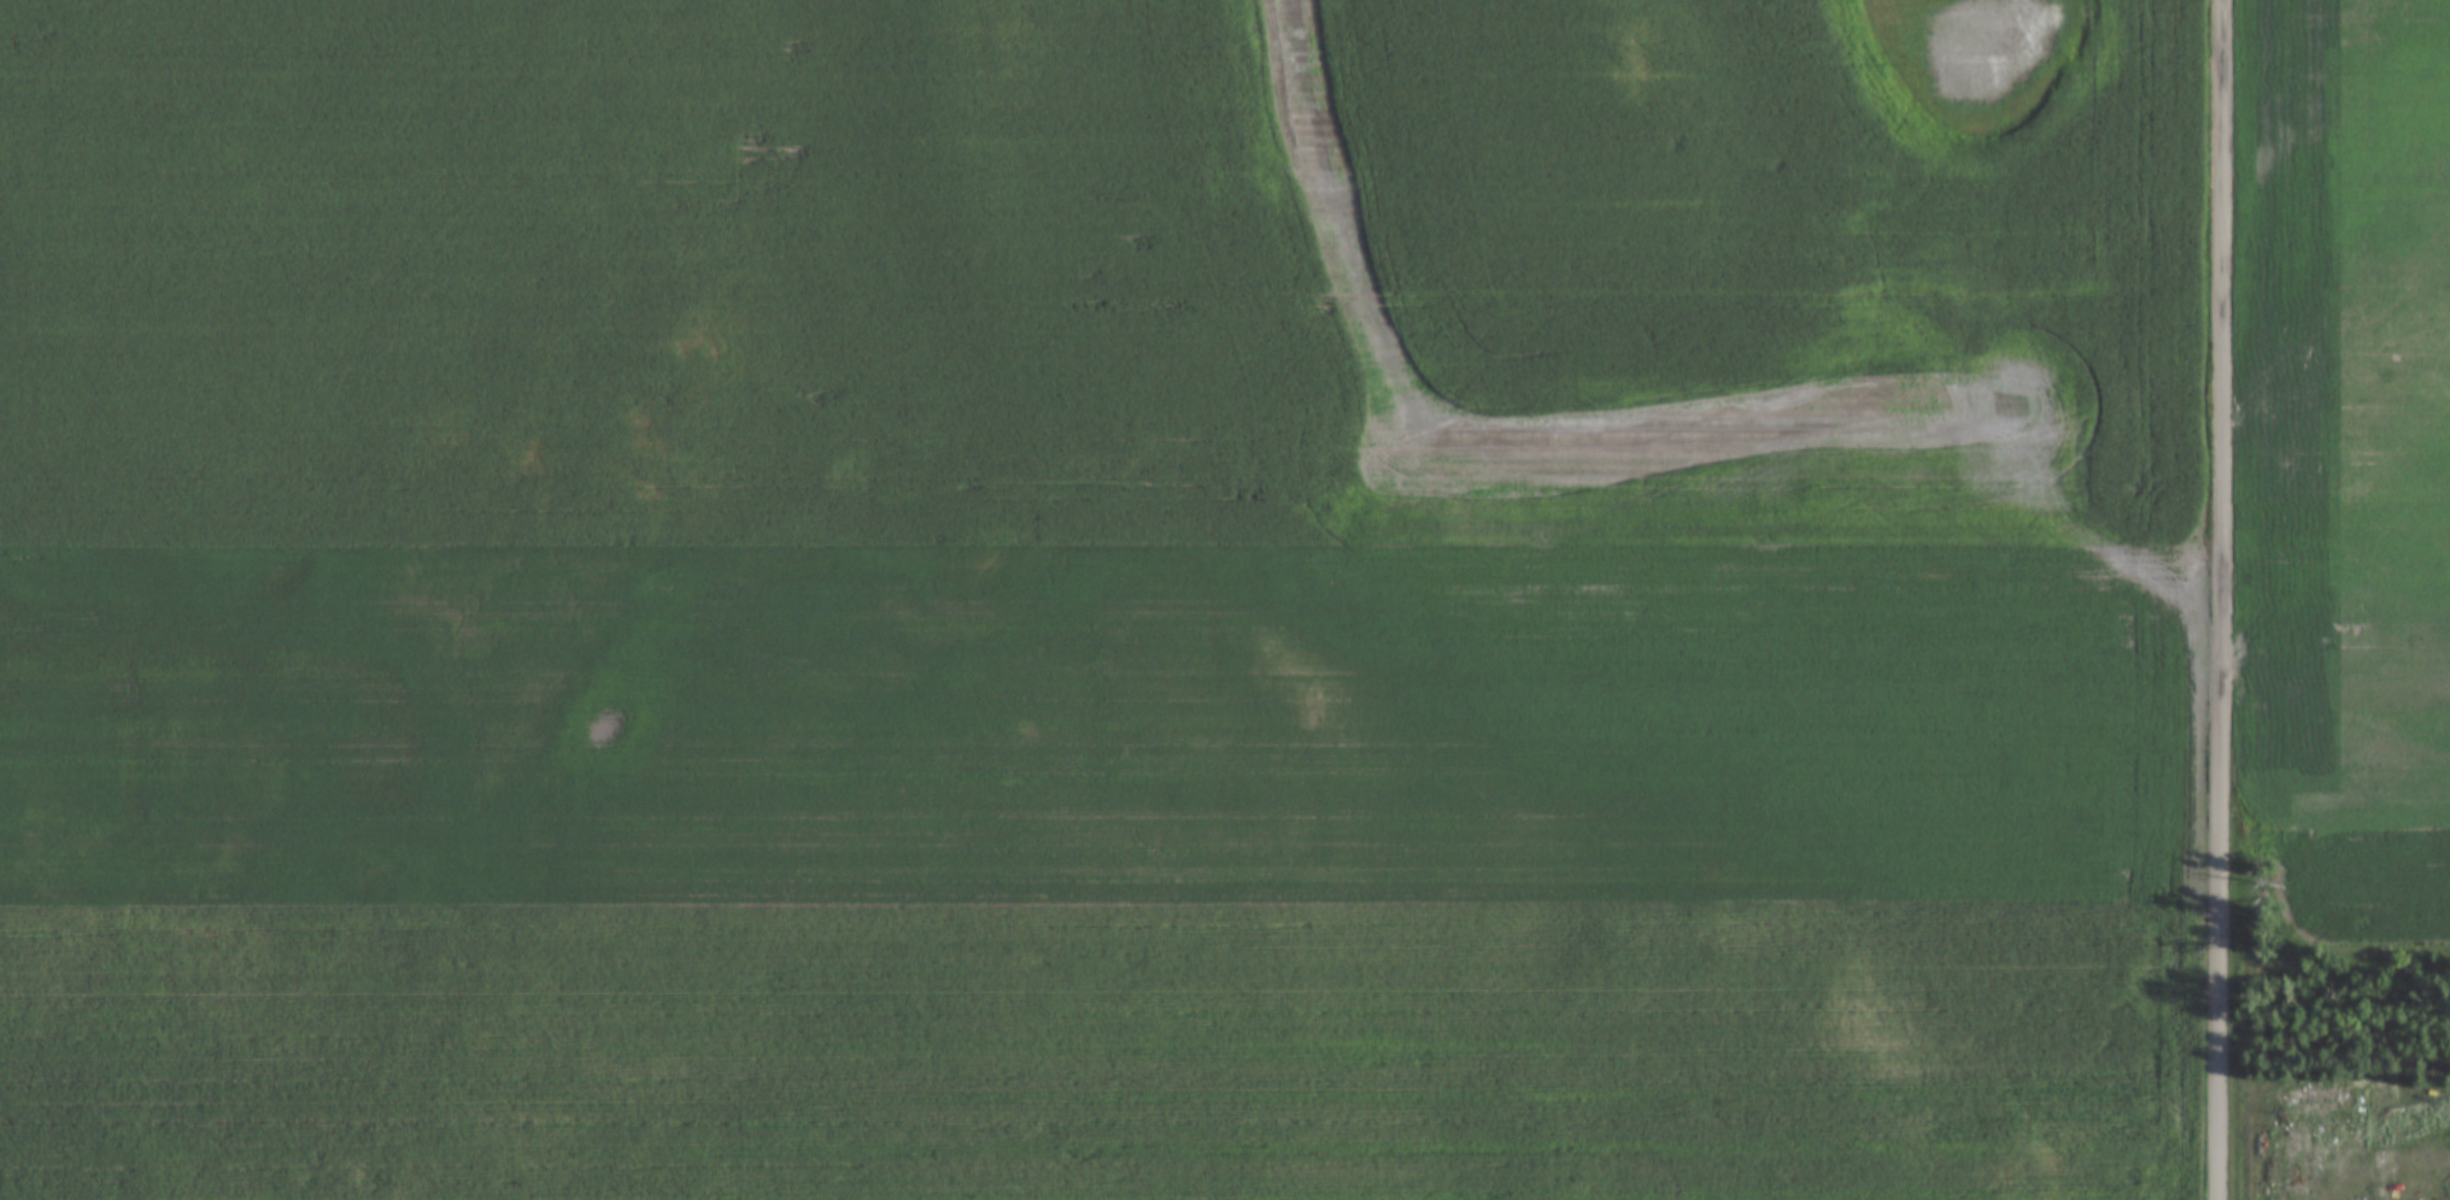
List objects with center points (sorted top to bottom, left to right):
road: (2219, 599)

